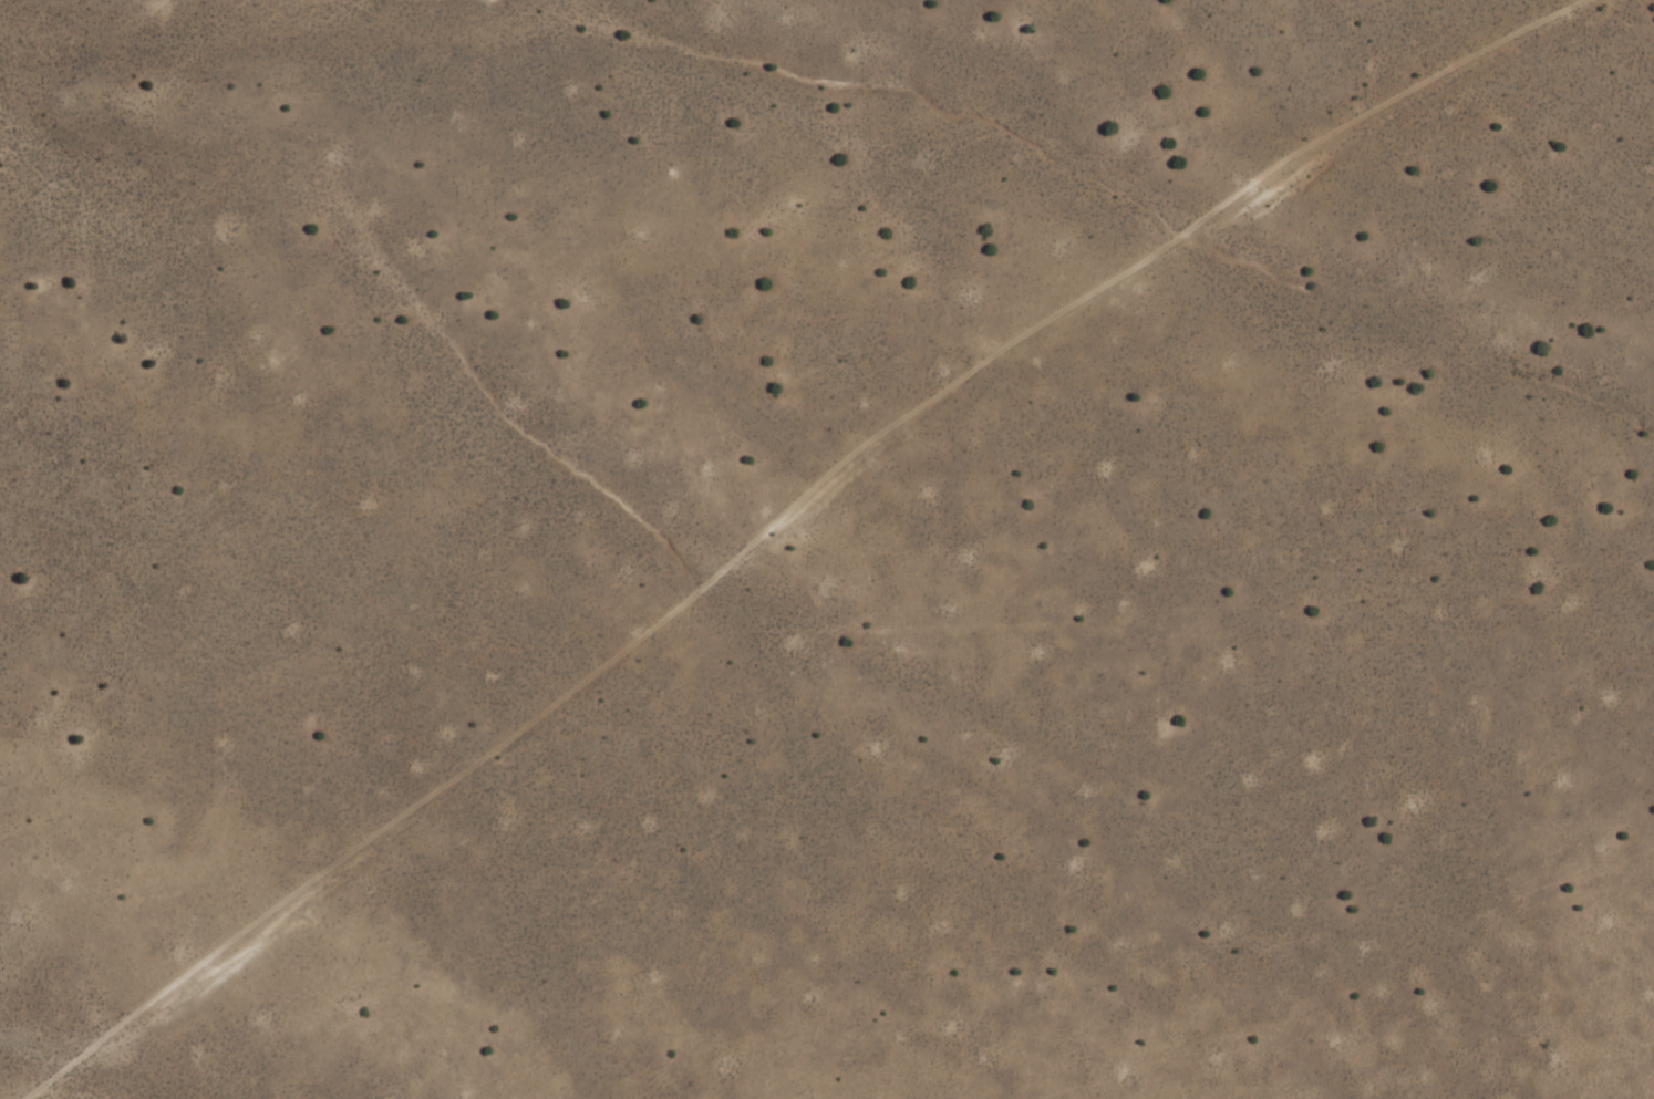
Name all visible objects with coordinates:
road: (782, 522)

